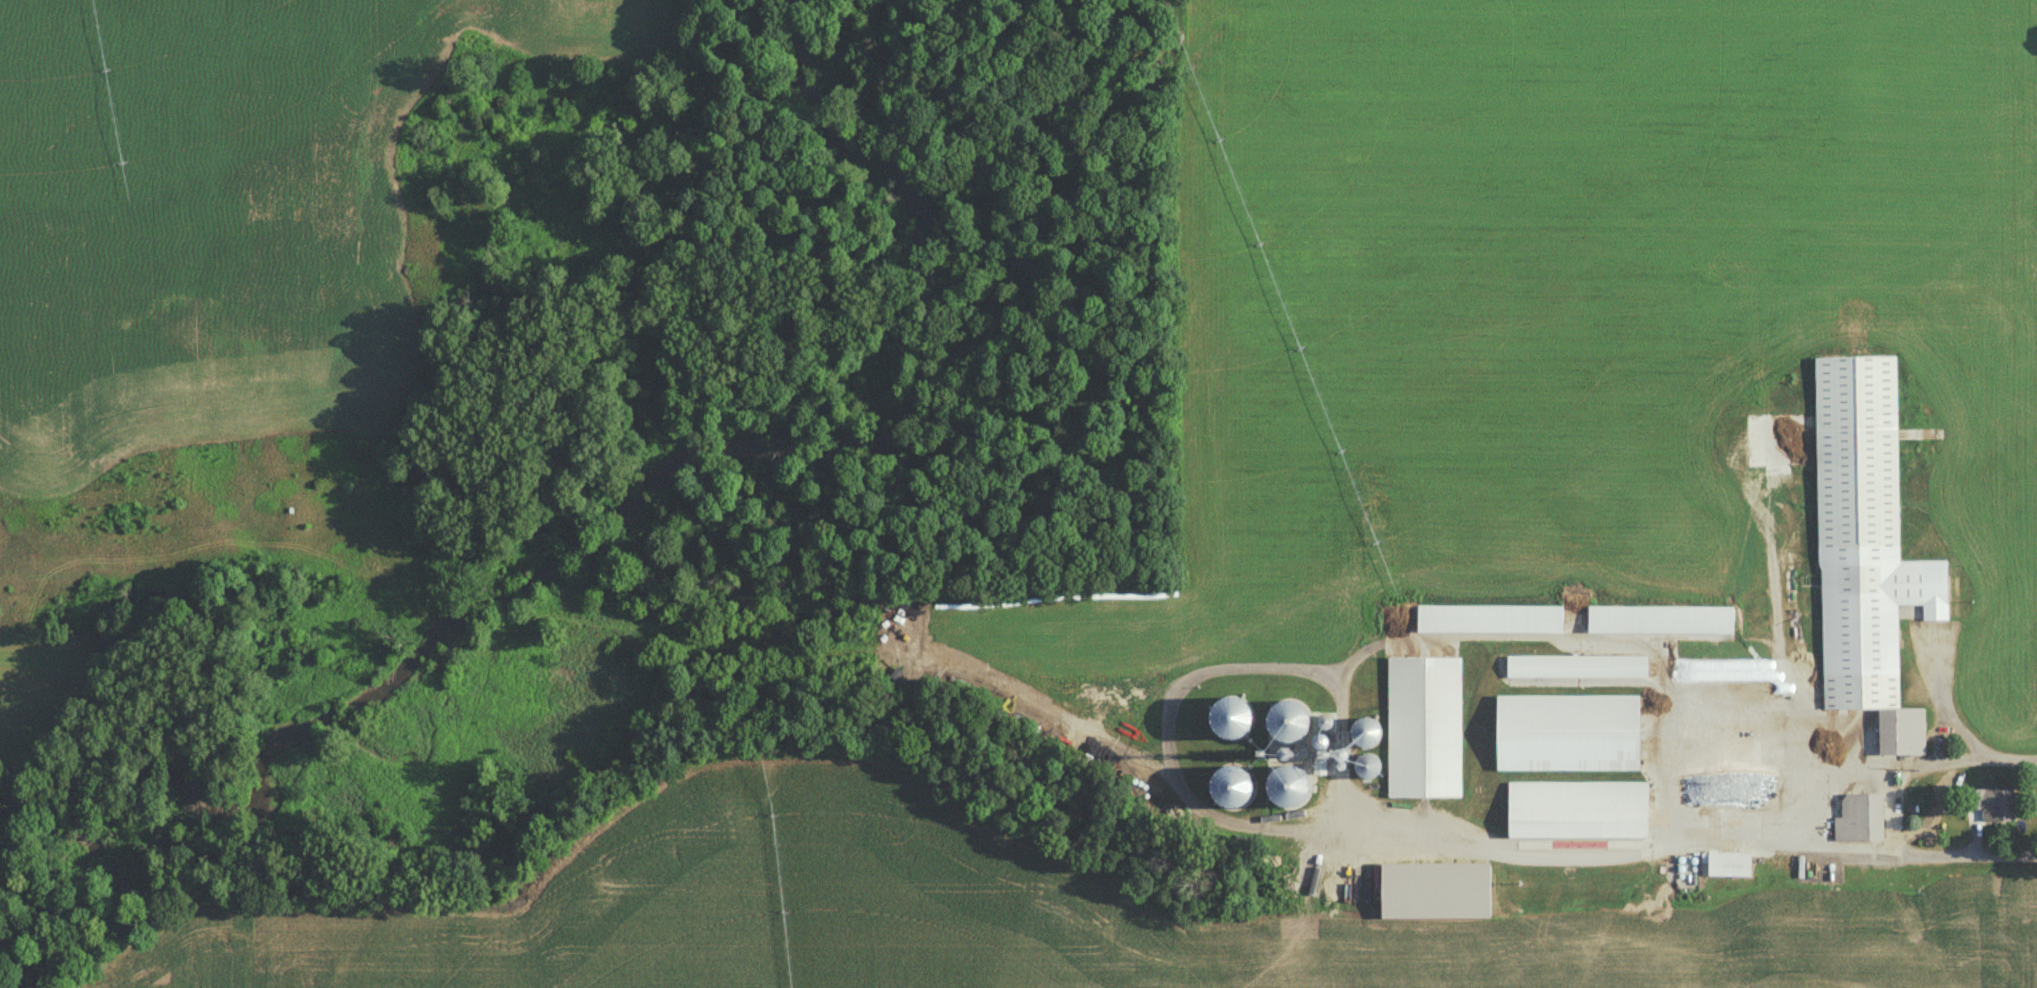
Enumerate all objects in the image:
building: (1865, 550)
building: (1488, 620)
building: (1658, 621)
building: (1576, 668)
building: (1282, 725)
building: (1423, 729)
building: (1565, 734)
building: (1360, 736)
building: (1281, 790)
building: (1226, 792)
building: (1706, 803)
building: (1987, 804)
building: (1576, 811)
road: (1808, 815)
building: (1857, 818)
building: (1727, 864)

